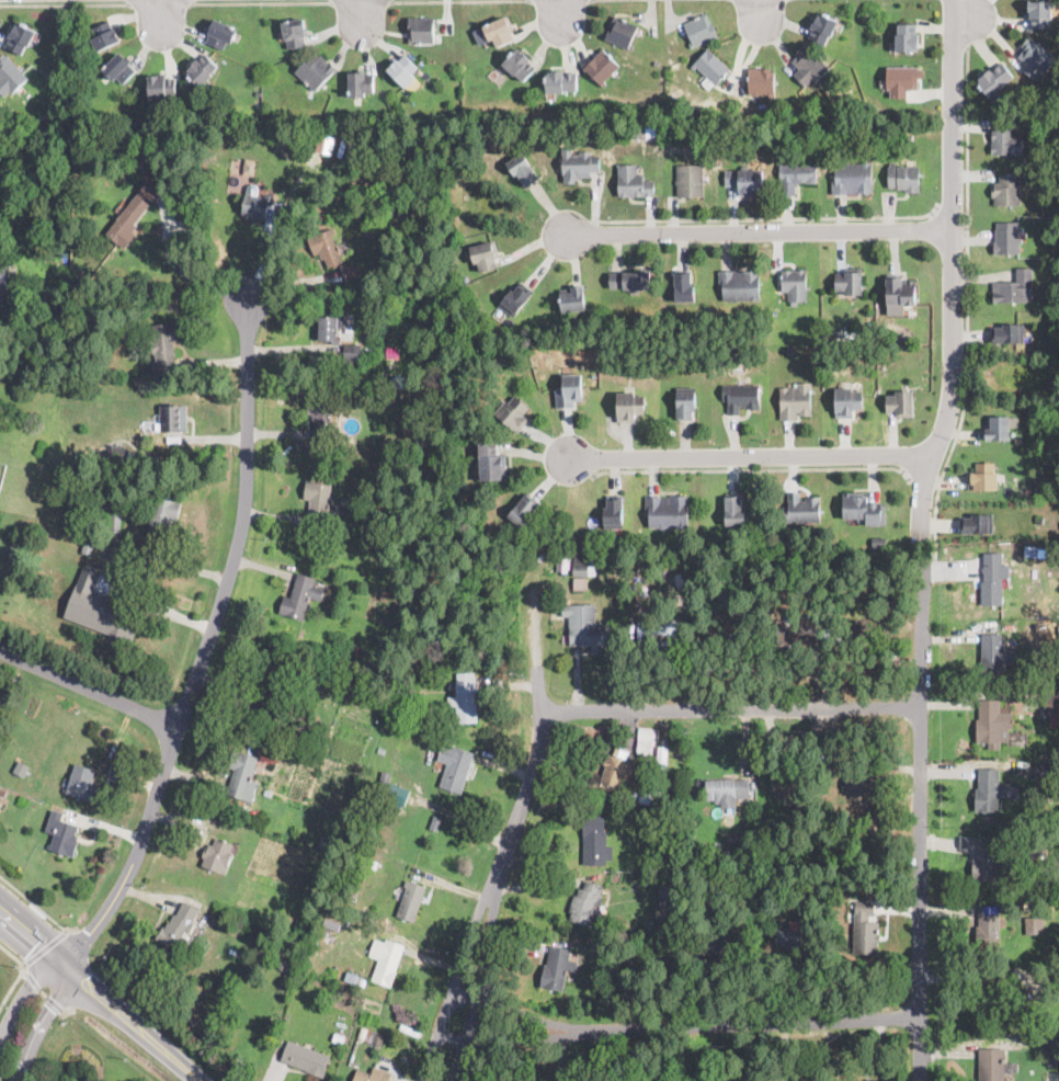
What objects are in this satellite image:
road: (261, 1)
road: (360, 1)
road: (64, 2)
road: (159, 2)
road: (759, 8)
road: (158, 10)
road: (362, 10)
road: (560, 10)
building: (1040, 14)
road: (967, 22)
building: (821, 29)
building: (422, 30)
building: (701, 30)
building: (500, 31)
building: (622, 32)
building: (296, 33)
building: (220, 34)
building: (105, 35)
building: (20, 37)
building: (908, 37)
building: (1035, 58)
building: (656, 64)
building: (519, 65)
building: (601, 66)
building: (711, 66)
building: (808, 66)
building: (118, 68)
building: (202, 69)
building: (316, 70)
building: (403, 70)
building: (10, 77)
building: (995, 79)
building: (902, 80)
building: (560, 81)
building: (762, 81)
building: (361, 83)
building: (161, 87)
building: (696, 112)
building: (722, 116)
building: (169, 122)
building: (271, 130)
building: (722, 132)
building: (236, 134)
building: (568, 134)
building: (909, 136)
building: (1007, 141)
building: (578, 163)
building: (331, 166)
building: (522, 168)
building: (795, 175)
building: (241, 177)
building: (903, 177)
building: (852, 178)
building: (203, 179)
building: (690, 179)
building: (634, 181)
building: (745, 182)
building: (1007, 189)
building: (1058, 193)
building: (255, 204)
building: (130, 214)
building: (389, 214)
road: (950, 216)
road: (764, 217)
road: (760, 230)
building: (1006, 237)
building: (1056, 238)
building: (324, 248)
building: (485, 254)
road: (954, 266)
building: (350, 269)
road: (184, 271)
building: (2, 276)
building: (465, 277)
building: (850, 280)
building: (629, 281)
building: (684, 284)
building: (795, 284)
building: (738, 285)
building: (1014, 288)
building: (900, 291)
road: (967, 296)
building: (573, 297)
building: (2, 298)
building: (515, 298)
building: (640, 316)
building: (466, 320)
building: (327, 329)
building: (838, 330)
building: (1007, 332)
building: (163, 344)
building: (790, 349)
building: (352, 352)
building: (2, 364)
building: (629, 371)
building: (386, 379)
building: (569, 389)
building: (741, 396)
building: (795, 400)
building: (686, 401)
building: (847, 401)
building: (900, 402)
building: (629, 405)
building: (513, 412)
building: (320, 414)
building: (171, 419)
building: (999, 426)
building: (385, 434)
building: (392, 434)
building: (1018, 440)
building: (118, 451)
road: (750, 455)
building: (492, 462)
road: (752, 468)
building: (371, 470)
building: (982, 476)
road: (923, 478)
building: (1038, 478)
building: (317, 502)
building: (735, 508)
building: (802, 508)
building: (524, 509)
building: (863, 509)
building: (614, 511)
building: (668, 511)
building: (1039, 517)
building: (116, 521)
building: (161, 521)
building: (977, 522)
building: (599, 539)
building: (880, 543)
building: (88, 546)
building: (1033, 550)
building: (15, 551)
building: (582, 572)
building: (406, 578)
building: (991, 580)
building: (297, 596)
building: (102, 607)
building: (633, 611)
building: (587, 627)
building: (630, 629)
building: (794, 630)
building: (863, 630)
building: (727, 631)
building: (660, 633)
road: (203, 645)
building: (994, 653)
building: (409, 658)
road: (89, 690)
building: (269, 691)
building: (464, 697)
building: (1051, 704)
road: (729, 707)
building: (993, 724)
building: (301, 729)
building: (645, 741)
building: (662, 755)
building: (454, 766)
building: (22, 767)
building: (617, 770)
building: (1047, 772)
building: (241, 773)
building: (384, 780)
building: (864, 781)
building: (82, 782)
building: (787, 783)
building: (727, 790)
building: (988, 790)
building: (644, 795)
building: (396, 796)
building: (0, 799)
building: (435, 822)
road: (919, 823)
building: (62, 835)
building: (594, 838)
road: (509, 839)
building: (324, 844)
building: (1036, 849)
building: (722, 851)
building: (218, 855)
building: (983, 857)
building: (374, 864)
building: (867, 886)
building: (667, 887)
building: (409, 899)
building: (585, 902)
building: (664, 903)
building: (1033, 903)
road: (37, 904)
building: (362, 910)
building: (662, 914)
building: (1034, 925)
building: (180, 926)
building: (608, 926)
road: (68, 928)
building: (864, 929)
building: (988, 929)
road: (32, 930)
building: (360, 931)
traffic signals: (90, 933)
building: (788, 938)
road: (81, 942)
building: (599, 943)
building: (719, 943)
road: (29, 944)
road: (45, 946)
traffic signals: (32, 947)
road: (13, 956)
building: (388, 963)
building: (284, 964)
building: (555, 967)
building: (351, 976)
building: (1056, 977)
road: (31, 978)
road: (78, 979)
building: (362, 980)
traffic signals: (82, 982)
road: (11, 989)
road: (42, 991)
building: (987, 991)
building: (1057, 993)
road: (21, 998)
road: (53, 1002)
traffic signals: (49, 1006)
road: (68, 1009)
road: (39, 1022)
road: (129, 1022)
road: (683, 1023)
building: (371, 1036)
building: (338, 1038)
building: (1054, 1052)
building: (305, 1057)
building: (991, 1065)
building: (373, 1076)

